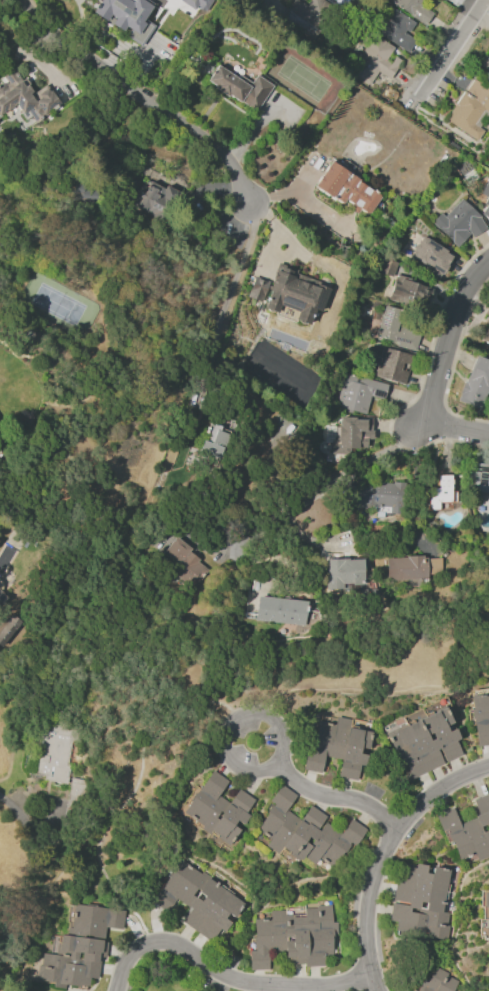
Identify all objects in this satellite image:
building: (334, 1)
building: (197, 4)
building: (412, 9)
building: (304, 15)
building: (125, 16)
building: (394, 25)
road: (446, 53)
building: (379, 58)
building: (485, 65)
building: (239, 87)
road: (145, 93)
building: (24, 98)
building: (468, 114)
building: (345, 188)
building: (486, 188)
building: (81, 193)
building: (151, 198)
road: (302, 202)
building: (486, 211)
building: (459, 223)
road: (279, 225)
building: (433, 256)
building: (290, 293)
building: (411, 293)
building: (487, 311)
building: (397, 329)
road: (210, 336)
building: (486, 336)
building: (392, 365)
building: (479, 371)
road: (440, 372)
building: (358, 393)
building: (351, 436)
building: (210, 449)
building: (479, 478)
road: (323, 484)
building: (439, 492)
building: (379, 497)
building: (185, 563)
building: (407, 568)
building: (343, 573)
building: (1, 596)
building: (284, 611)
building: (7, 628)
road: (369, 689)
building: (480, 716)
road: (284, 738)
building: (425, 742)
building: (52, 759)
road: (132, 798)
building: (76, 799)
road: (14, 800)
building: (242, 801)
building: (215, 809)
building: (314, 817)
building: (284, 825)
building: (468, 830)
road: (385, 856)
building: (422, 886)
building: (197, 901)
building: (487, 902)
building: (488, 930)
building: (293, 938)
building: (77, 948)
road: (230, 977)
building: (438, 982)

